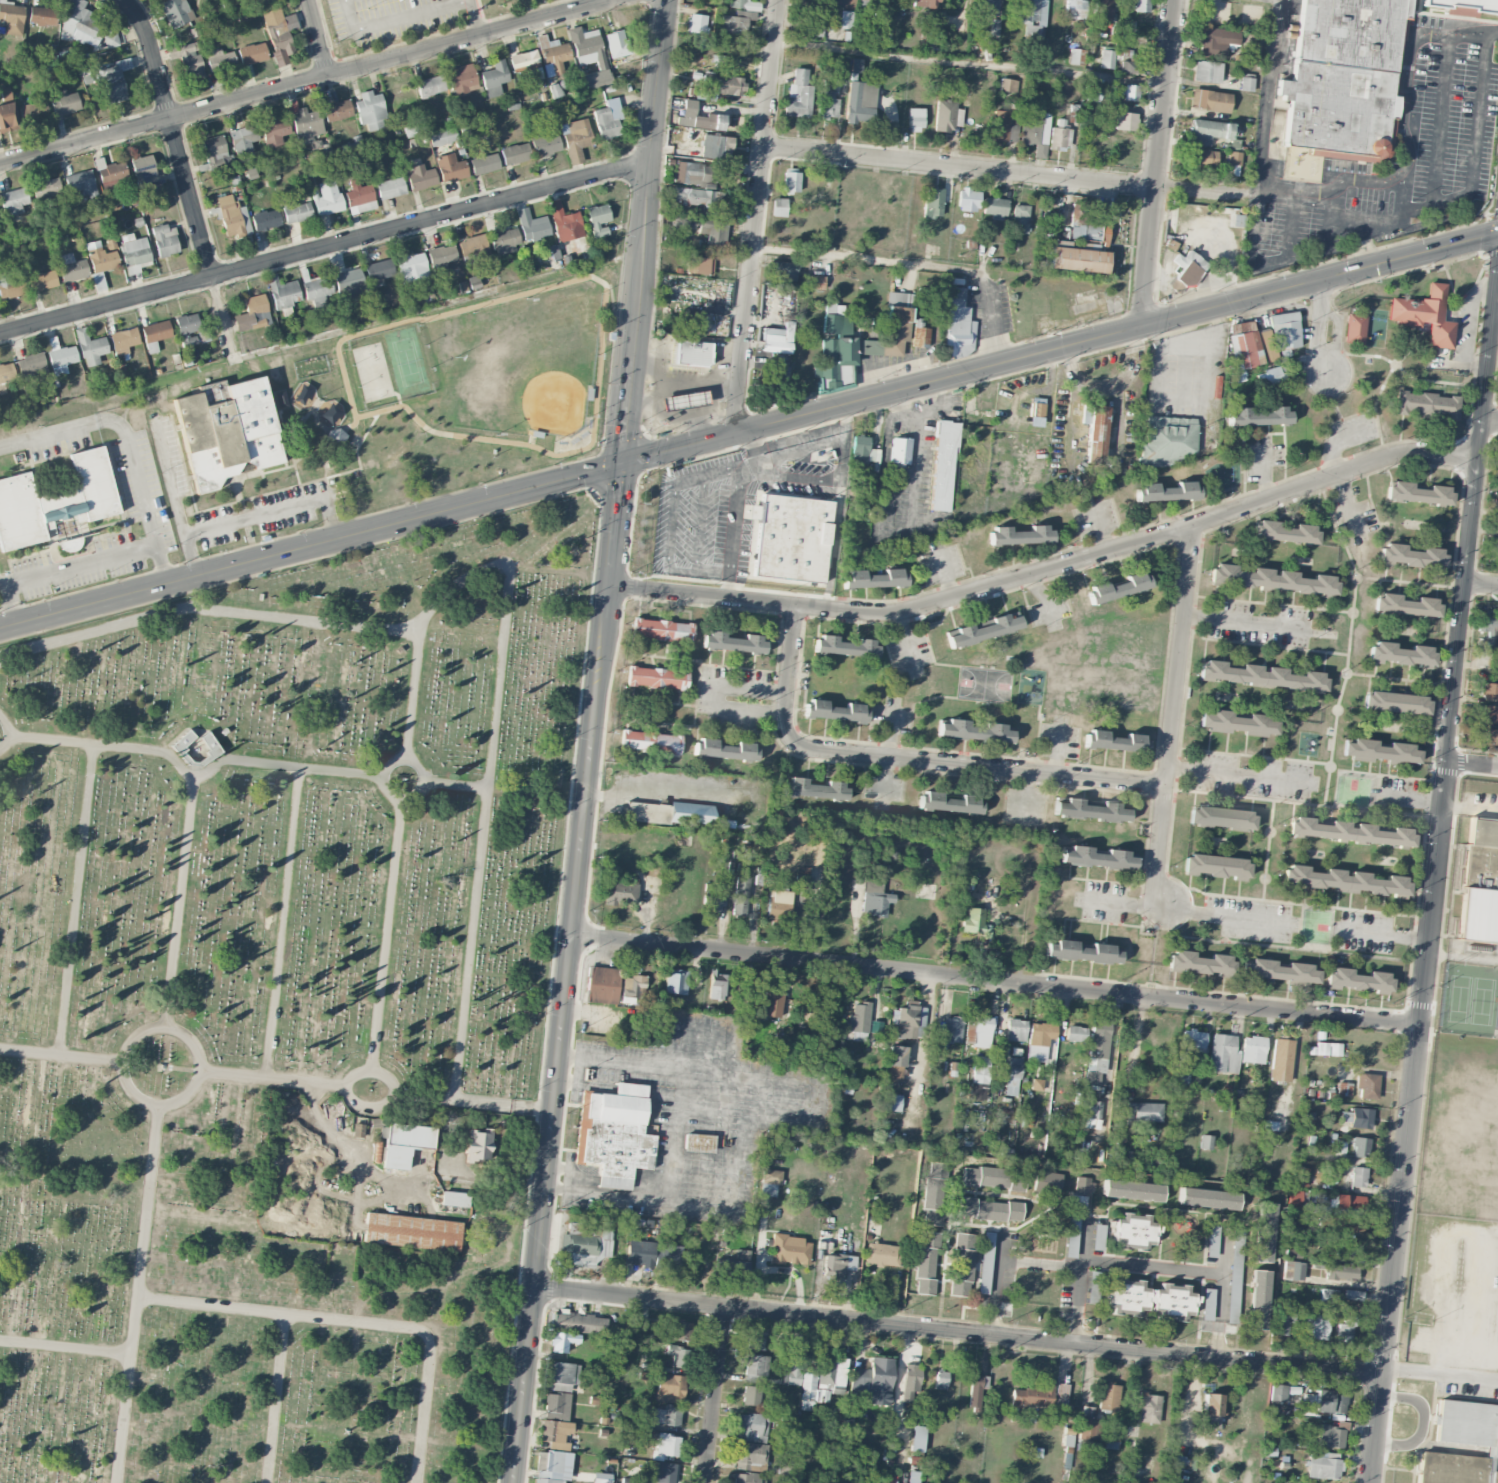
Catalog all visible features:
building: (257, 0)
building: (842, 3)
building: (925, 3)
building: (743, 4)
building: (1141, 5)
building: (1466, 6)
building: (988, 7)
building: (1075, 9)
building: (1102, 11)
building: (175, 12)
building: (42, 16)
building: (11, 18)
road: (475, 18)
road: (397, 19)
building: (845, 19)
building: (1031, 19)
building: (878, 20)
building: (697, 23)
building: (734, 24)
building: (994, 26)
building: (85, 27)
building: (811, 27)
building: (279, 35)
road: (318, 38)
building: (1216, 41)
building: (618, 48)
building: (1253, 52)
building: (252, 53)
building: (552, 55)
building: (589, 56)
building: (1076, 56)
building: (187, 59)
building: (221, 59)
building: (1107, 59)
road: (970, 63)
building: (526, 64)
building: (1134, 67)
building: (1207, 71)
building: (494, 78)
building: (112, 79)
building: (1344, 79)
building: (461, 80)
road: (306, 82)
building: (1246, 82)
building: (1007, 85)
building: (430, 86)
building: (721, 86)
building: (1092, 92)
building: (1130, 92)
road: (1267, 93)
building: (798, 95)
building: (1210, 100)
building: (64, 102)
building: (860, 102)
building: (828, 104)
building: (337, 110)
building: (370, 110)
building: (34, 111)
building: (946, 115)
building: (7, 117)
building: (698, 117)
building: (608, 119)
building: (915, 119)
building: (1124, 120)
road: (1440, 120)
building: (306, 125)
building: (1003, 126)
building: (1030, 126)
building: (274, 130)
building: (411, 130)
building: (1209, 131)
road: (173, 134)
building: (442, 137)
building: (243, 138)
building: (576, 138)
building: (1061, 138)
building: (545, 144)
road: (1405, 144)
building: (716, 147)
road: (1473, 150)
building: (215, 151)
building: (515, 153)
building: (1201, 158)
building: (1233, 158)
road: (1157, 163)
building: (484, 164)
building: (451, 167)
road: (960, 167)
building: (145, 171)
building: (694, 173)
building: (110, 174)
building: (421, 177)
building: (791, 181)
building: (81, 183)
building: (45, 188)
building: (390, 188)
road: (1202, 193)
building: (696, 196)
building: (359, 197)
building: (327, 198)
building: (968, 200)
building: (14, 201)
building: (933, 202)
building: (779, 207)
building: (995, 207)
building: (296, 211)
building: (229, 216)
road: (757, 217)
building: (265, 219)
building: (598, 219)
building: (1021, 219)
road: (1293, 220)
road: (1383, 221)
building: (564, 222)
building: (682, 224)
building: (531, 225)
road: (644, 231)
building: (714, 232)
building: (165, 240)
building: (505, 241)
building: (1081, 244)
road: (324, 247)
building: (473, 249)
building: (134, 253)
road: (1274, 254)
road: (1423, 255)
building: (101, 257)
building: (442, 258)
road: (868, 258)
building: (699, 265)
building: (411, 267)
building: (72, 268)
building: (379, 269)
building: (1186, 270)
building: (785, 271)
building: (42, 280)
building: (814, 281)
building: (11, 285)
building: (349, 287)
building: (317, 291)
building: (283, 294)
road: (220, 314)
building: (1425, 315)
road: (990, 318)
building: (688, 322)
building: (958, 325)
building: (188, 329)
building: (1354, 329)
building: (1284, 330)
road: (1327, 330)
building: (156, 331)
building: (919, 337)
building: (776, 339)
building: (123, 340)
building: (858, 341)
building: (1242, 345)
building: (1265, 346)
building: (91, 347)
building: (693, 353)
building: (62, 359)
building: (31, 366)
road: (983, 369)
building: (6, 372)
building: (1268, 376)
park: (450, 391)
building: (683, 400)
building: (1427, 404)
building: (331, 413)
building: (1258, 416)
road: (1490, 425)
building: (226, 430)
building: (1094, 431)
building: (335, 436)
building: (1166, 441)
road: (129, 443)
road: (813, 445)
building: (859, 449)
building: (899, 450)
traffic signals: (619, 463)
building: (943, 466)
road: (708, 482)
building: (1166, 491)
road: (173, 493)
building: (1418, 493)
road: (738, 498)
building: (55, 500)
road: (270, 511)
road: (671, 522)
road: (1099, 523)
road: (703, 524)
road: (895, 530)
building: (1283, 532)
building: (1020, 535)
building: (792, 538)
building: (1496, 544)
road: (309, 546)
building: (1410, 555)
road: (78, 565)
road: (1050, 567)
road: (700, 568)
building: (874, 579)
building: (1270, 580)
road: (698, 581)
road: (1482, 582)
road: (1412, 583)
building: (1118, 588)
road: (1270, 604)
building: (1405, 605)
road: (207, 608)
road: (4, 611)
road: (1247, 623)
building: (1487, 628)
building: (662, 630)
building: (984, 630)
road: (1351, 640)
building: (732, 642)
building: (1497, 642)
road: (909, 644)
road: (1264, 646)
building: (844, 647)
building: (1400, 654)
building: (1259, 675)
building: (657, 678)
road: (1402, 680)
building: (1489, 691)
road: (717, 695)
building: (1395, 703)
road: (495, 709)
building: (834, 711)
building: (1488, 713)
road: (1173, 718)
building: (1237, 723)
building: (974, 731)
road: (7, 732)
building: (1486, 736)
building: (1114, 741)
building: (650, 742)
building: (183, 745)
building: (208, 748)
building: (724, 749)
building: (1380, 751)
road: (1251, 756)
road: (405, 758)
road: (910, 758)
road: (1473, 765)
road: (192, 774)
road: (1243, 776)
road: (1388, 776)
road: (456, 784)
road: (650, 788)
building: (813, 789)
road: (1377, 793)
road: (1410, 800)
building: (948, 803)
road: (1304, 803)
building: (1090, 810)
building: (646, 812)
building: (690, 813)
building: (1221, 818)
building: (1350, 832)
road: (1270, 851)
building: (1097, 858)
building: (1215, 866)
building: (1346, 881)
building: (1480, 882)
building: (801, 883)
road: (1436, 886)
building: (621, 893)
building: (740, 895)
building: (875, 897)
road: (76, 899)
road: (179, 901)
building: (713, 903)
road: (1293, 903)
building: (779, 904)
road: (1188, 911)
road: (282, 922)
building: (974, 922)
road: (1383, 935)
road: (386, 936)
building: (1081, 952)
building: (1198, 962)
building: (1278, 971)
road: (562, 972)
road: (993, 979)
building: (1358, 980)
building: (676, 981)
building: (602, 985)
building: (718, 985)
building: (633, 986)
building: (772, 1003)
park: (280, 1010)
building: (909, 1019)
building: (858, 1020)
road: (165, 1027)
road: (928, 1028)
building: (1016, 1030)
building: (951, 1031)
building: (978, 1032)
building: (1076, 1033)
building: (1039, 1040)
building: (1193, 1040)
building: (1252, 1049)
building: (1097, 1052)
building: (1223, 1054)
road: (61, 1055)
road: (617, 1059)
building: (1281, 1060)
building: (895, 1064)
building: (1013, 1075)
building: (980, 1077)
road: (272, 1078)
road: (583, 1084)
building: (1036, 1084)
building: (1366, 1085)
road: (630, 1089)
building: (1344, 1089)
road: (662, 1093)
road: (471, 1100)
building: (893, 1102)
road: (381, 1105)
building: (1144, 1112)
building: (1092, 1114)
road: (782, 1116)
building: (1344, 1116)
building: (1360, 1118)
building: (358, 1130)
road: (674, 1132)
building: (614, 1134)
building: (698, 1142)
building: (1205, 1142)
building: (404, 1143)
building: (478, 1145)
building: (1360, 1146)
road: (351, 1147)
building: (1340, 1147)
building: (1116, 1154)
building: (1334, 1171)
road: (571, 1172)
building: (1301, 1176)
building: (1358, 1177)
road: (614, 1178)
building: (993, 1178)
road: (649, 1182)
building: (769, 1182)
building: (1047, 1182)
building: (935, 1183)
building: (1080, 1190)
building: (1132, 1190)
road: (605, 1192)
building: (1208, 1198)
building: (454, 1199)
building: (1297, 1200)
building: (1348, 1202)
building: (990, 1209)
building: (931, 1216)
building: (1340, 1225)
building: (1133, 1231)
building: (412, 1232)
building: (1264, 1232)
building: (1071, 1236)
building: (1098, 1237)
building: (1213, 1241)
building: (585, 1242)
building: (1347, 1248)
building: (790, 1250)
building: (639, 1253)
road: (1223, 1253)
building: (883, 1254)
building: (669, 1257)
road: (1002, 1259)
building: (926, 1262)
building: (985, 1262)
building: (837, 1264)
building: (962, 1264)
building: (734, 1265)
road: (1152, 1266)
building: (1294, 1270)
building: (1341, 1272)
building: (1235, 1275)
road: (1080, 1285)
building: (1093, 1287)
road: (136, 1293)
building: (1353, 1294)
building: (1328, 1296)
building: (1149, 1298)
building: (1258, 1299)
building: (1207, 1304)
road: (1217, 1315)
road: (356, 1320)
building: (579, 1323)
building: (1283, 1323)
building: (1219, 1326)
building: (1316, 1326)
building: (678, 1329)
building: (1346, 1329)
road: (958, 1331)
building: (755, 1339)
building: (562, 1341)
road: (65, 1345)
building: (677, 1355)
building: (755, 1368)
road: (1441, 1371)
building: (793, 1373)
building: (562, 1376)
building: (879, 1380)
building: (941, 1380)
building: (910, 1381)
building: (823, 1382)
building: (859, 1382)
building: (979, 1382)
building: (670, 1387)
building: (1277, 1392)
road: (714, 1395)
building: (751, 1395)
building: (1061, 1395)
building: (1033, 1396)
building: (1109, 1396)
road: (274, 1397)
building: (1322, 1402)
building: (556, 1405)
building: (1148, 1408)
building: (1211, 1410)
building: (1086, 1411)
building: (666, 1416)
building: (645, 1418)
building: (1466, 1423)
building: (751, 1427)
building: (1088, 1427)
building: (556, 1433)
building: (1331, 1435)
building: (918, 1438)
building: (1111, 1442)
building: (665, 1446)
building: (751, 1456)
building: (1323, 1465)
building: (553, 1467)
building: (784, 1467)
building: (662, 1472)
building: (912, 1476)
building: (602, 1477)
building: (748, 1478)
building: (633, 1481)

